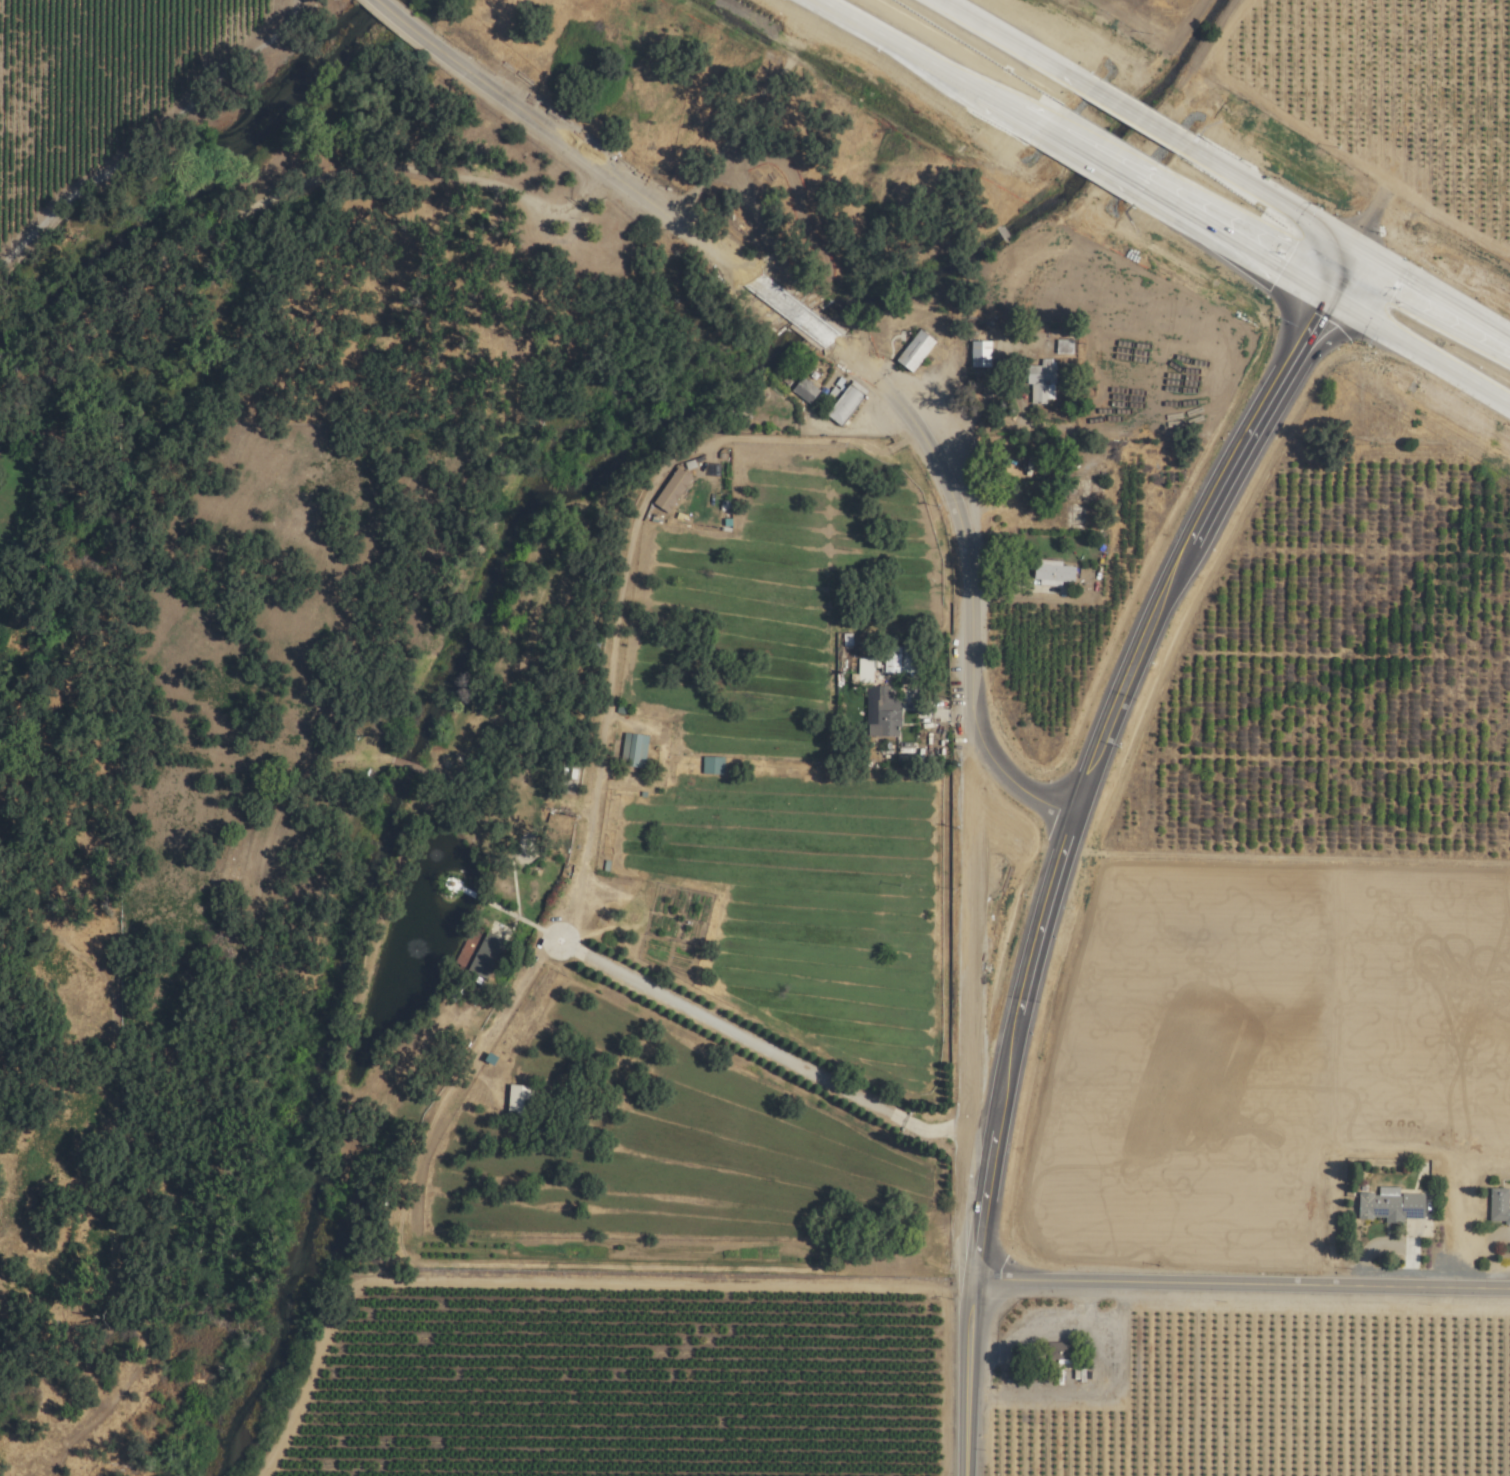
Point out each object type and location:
crop: (1137, 12)
road: (401, 20)
road: (1013, 43)
road: (928, 66)
crop: (1410, 84)
road: (1137, 114)
building: (1097, 156)
road: (1092, 158)
road: (596, 166)
road: (1271, 197)
road: (1232, 243)
traffic signals: (1359, 252)
road: (1434, 296)
traffic signals: (1330, 304)
road: (805, 322)
building: (1063, 346)
building: (915, 350)
building: (979, 354)
road: (1420, 356)
building: (1041, 382)
building: (804, 390)
building: (843, 407)
building: (671, 490)
road: (955, 514)
building: (1051, 572)
building: (885, 716)
building: (633, 749)
building: (712, 765)
crop: (789, 768)
road: (1005, 781)
road: (1070, 835)
building: (485, 955)
crop: (1251, 1047)
road: (768, 1051)
building: (519, 1102)
building: (1390, 1205)
building: (1499, 1206)
traffic signals: (975, 1283)
road: (1242, 1286)

